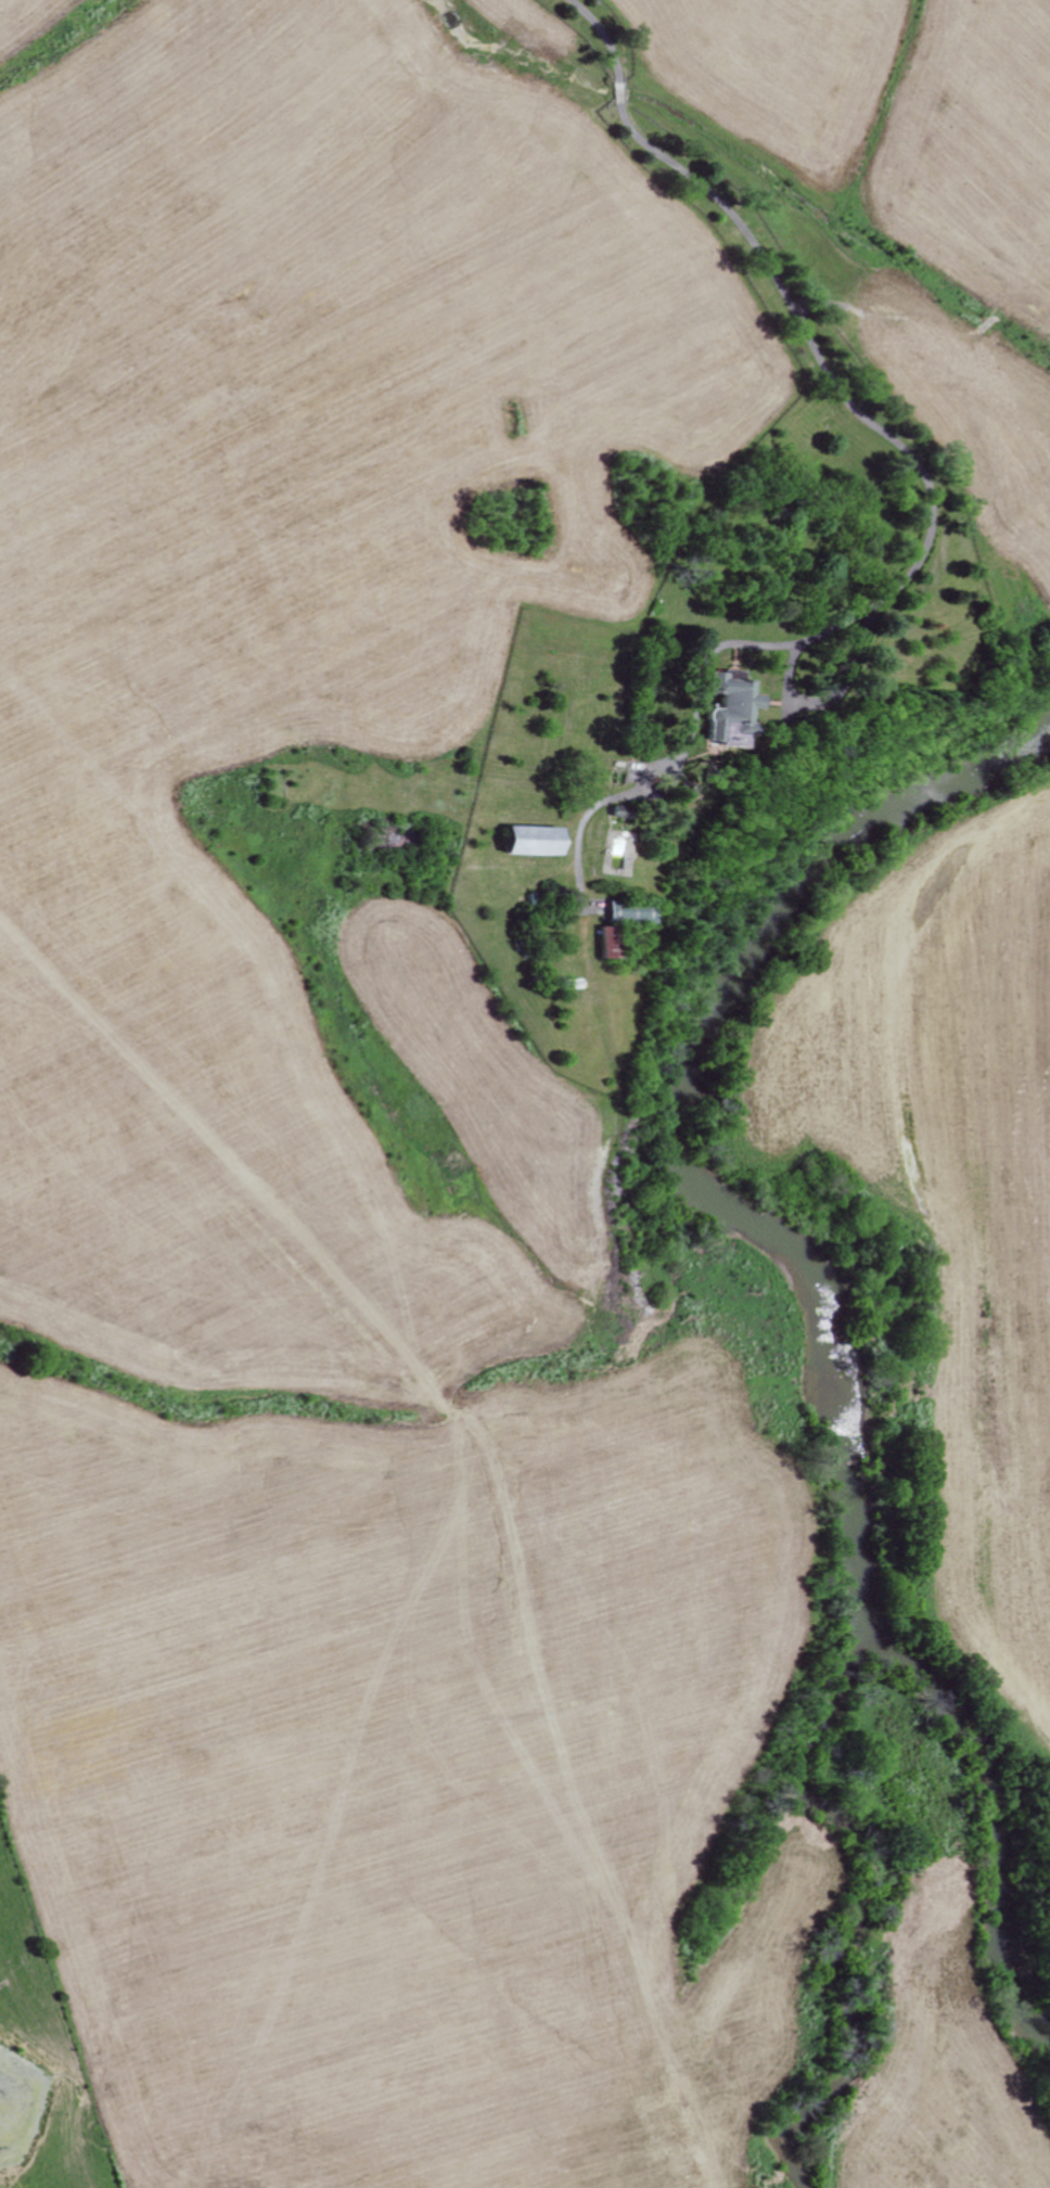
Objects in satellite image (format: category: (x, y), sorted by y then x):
road: (604, 34)
road: (620, 91)
road: (927, 538)
building: (731, 707)
building: (535, 840)
building: (607, 942)

